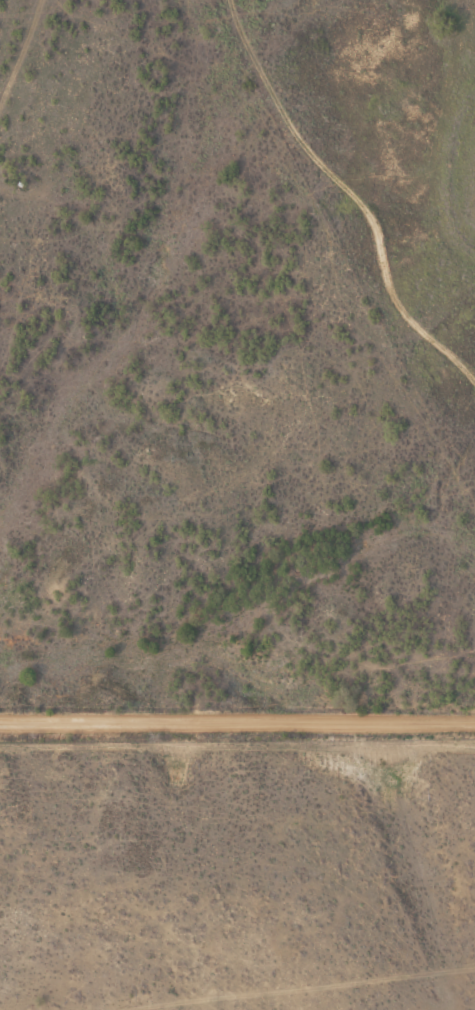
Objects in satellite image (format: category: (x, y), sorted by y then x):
road: (237, 723)

